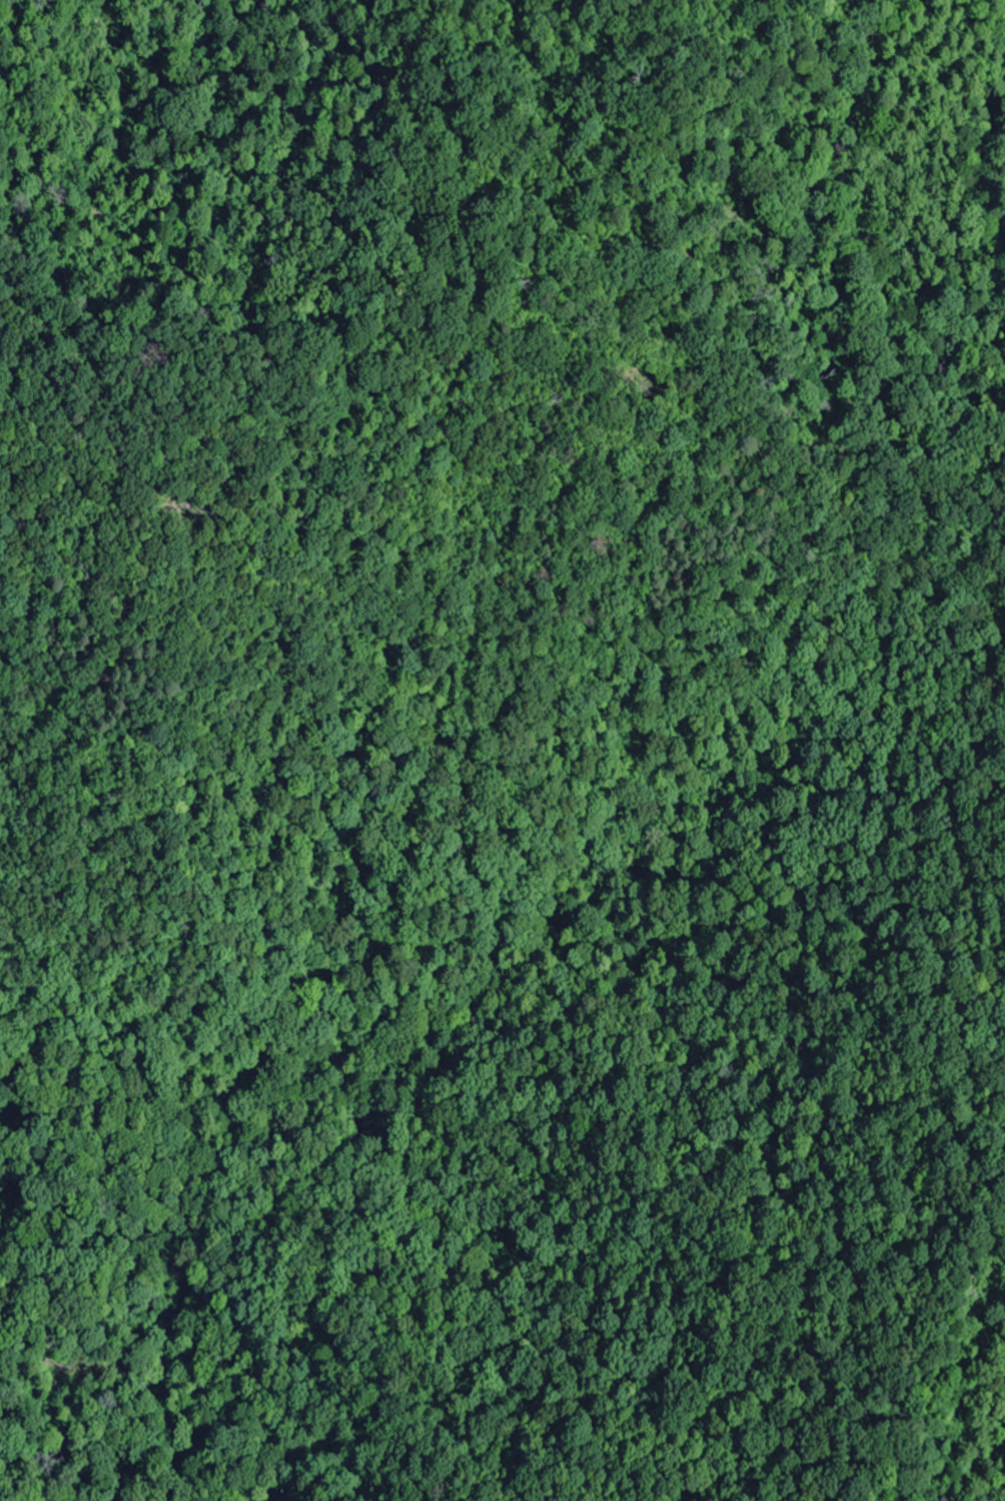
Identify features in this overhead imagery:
road: (918, 608)

